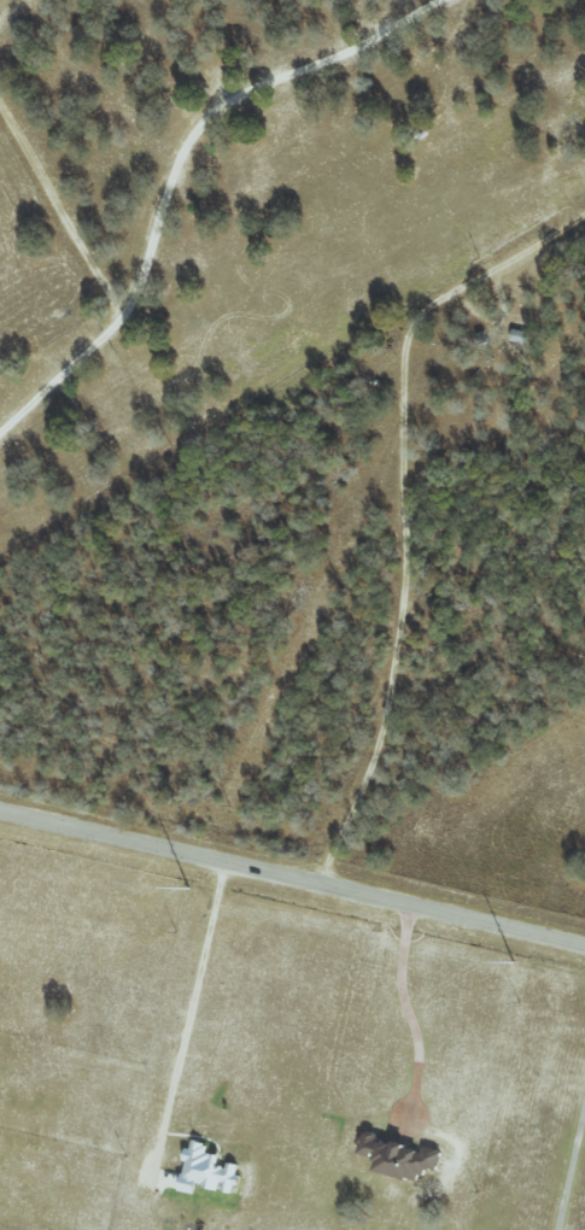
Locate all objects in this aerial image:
road: (175, 164)
road: (408, 500)
road: (292, 867)
power tower: (188, 889)
power tower: (513, 961)
road: (192, 1011)
road: (406, 1011)
building: (397, 1159)
building: (206, 1170)
road: (573, 1178)

